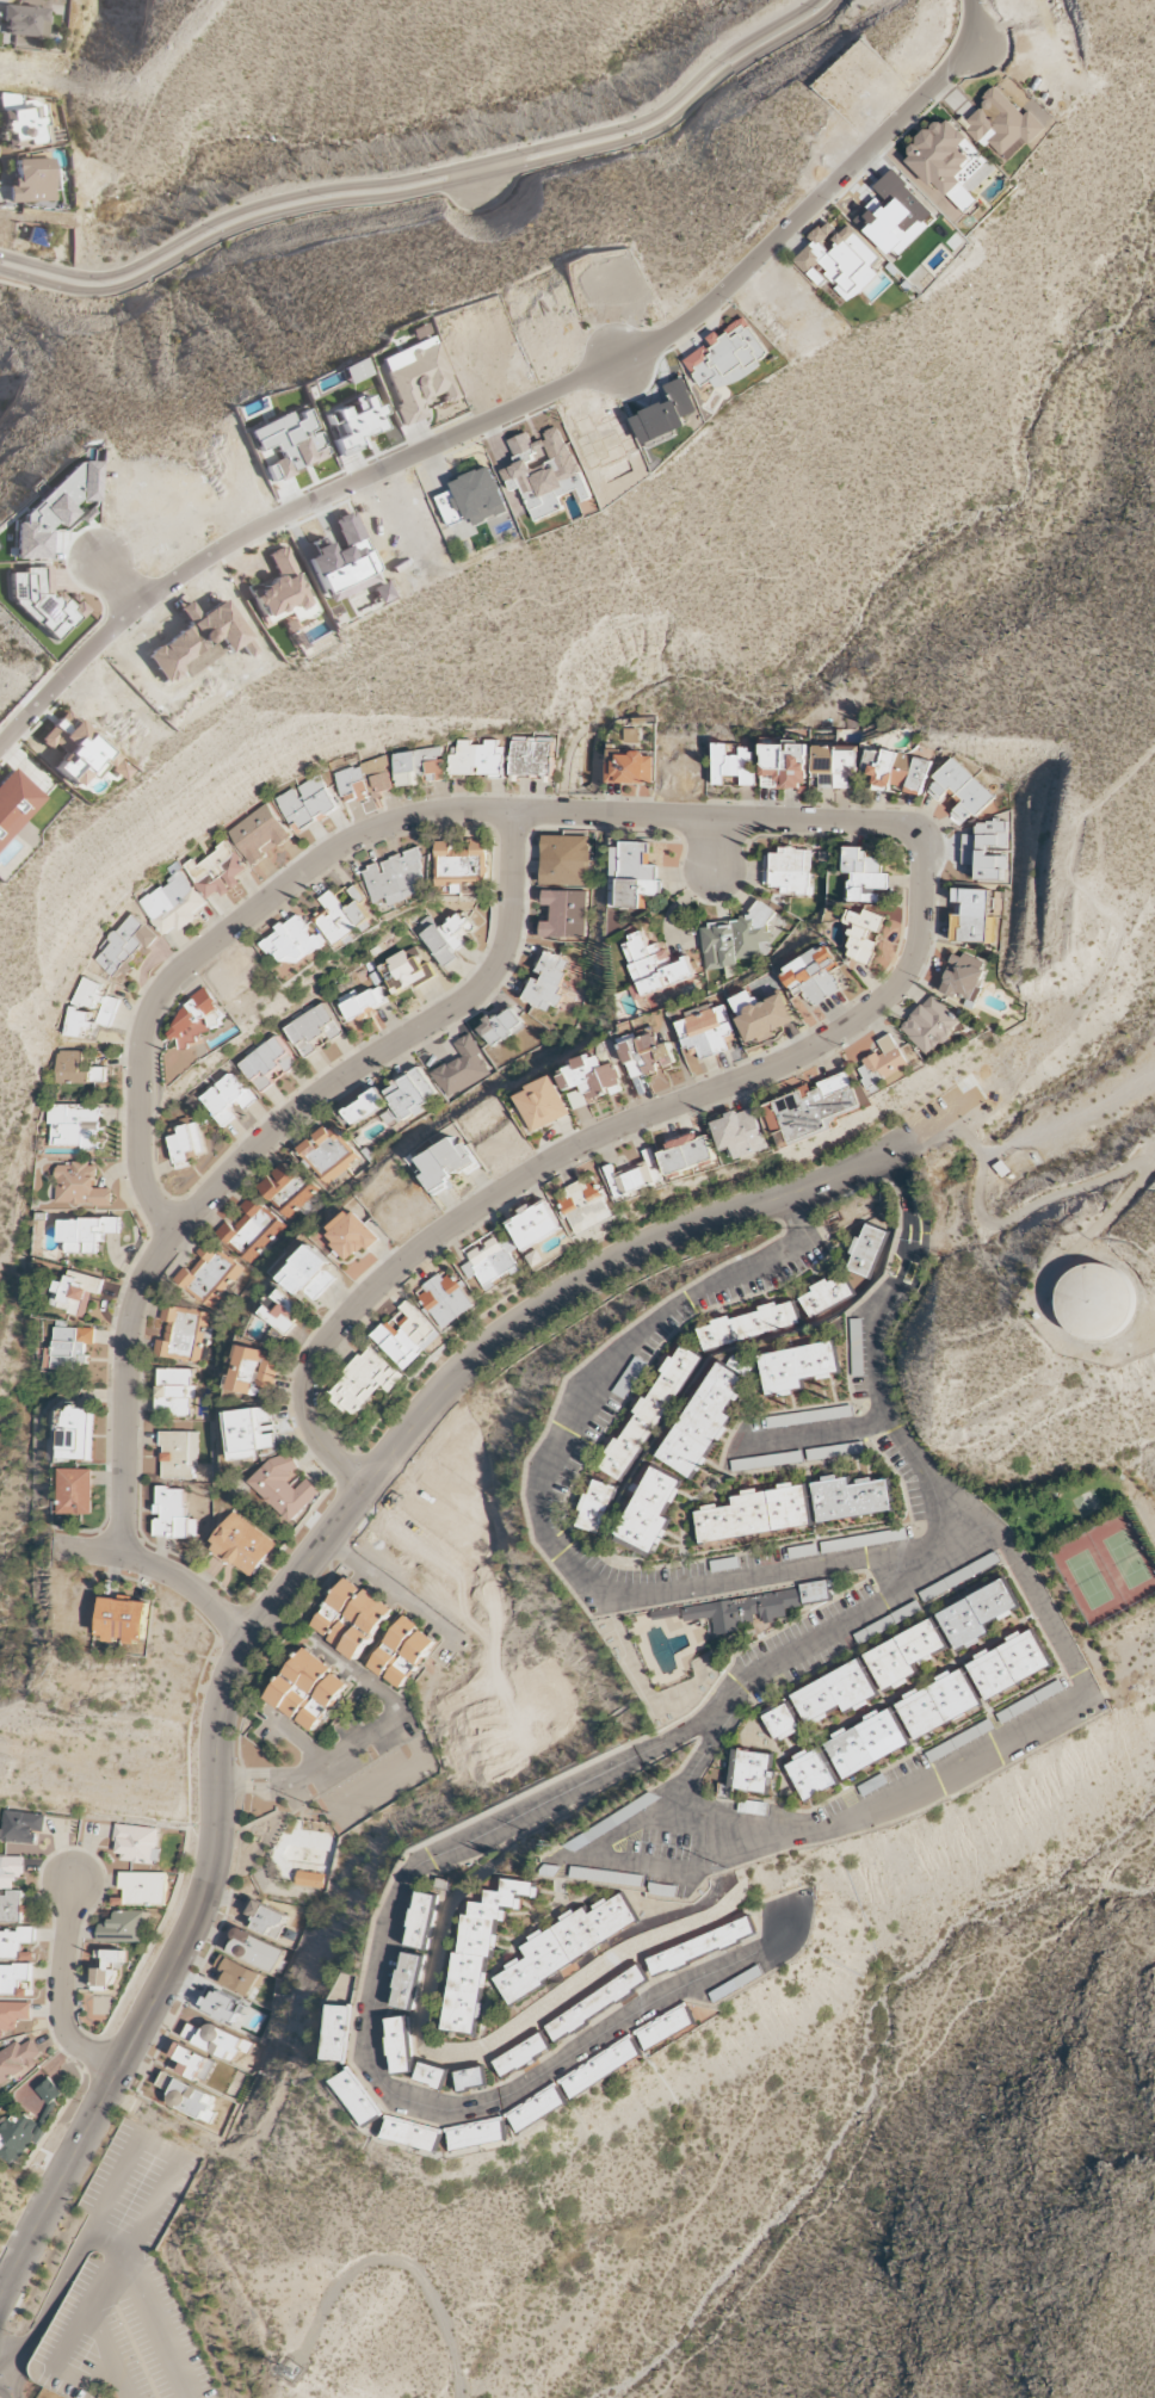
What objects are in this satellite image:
building: (25, 21)
building: (20, 122)
building: (1002, 125)
building: (31, 180)
road: (425, 183)
building: (839, 259)
building: (727, 357)
building: (356, 371)
building: (416, 377)
road: (518, 406)
building: (666, 413)
building: (541, 470)
building: (472, 499)
building: (54, 509)
building: (279, 587)
building: (41, 601)
building: (632, 736)
building: (75, 750)
building: (531, 756)
building: (476, 759)
building: (734, 765)
building: (835, 765)
building: (416, 766)
building: (785, 767)
building: (630, 770)
building: (896, 770)
building: (118, 771)
building: (363, 780)
building: (959, 790)
building: (16, 803)
building: (305, 803)
road: (889, 824)
building: (258, 834)
road: (699, 847)
building: (566, 860)
building: (462, 864)
building: (217, 871)
building: (787, 871)
building: (864, 874)
building: (631, 876)
building: (397, 878)
building: (168, 900)
building: (564, 914)
building: (971, 914)
building: (342, 919)
building: (863, 934)
building: (447, 937)
building: (736, 939)
building: (294, 942)
building: (123, 947)
building: (654, 966)
building: (404, 971)
building: (813, 978)
building: (963, 978)
building: (545, 982)
building: (743, 1002)
building: (360, 1003)
building: (88, 1009)
building: (197, 1018)
building: (767, 1019)
building: (931, 1025)
building: (501, 1027)
building: (311, 1028)
building: (705, 1030)
building: (644, 1055)
building: (266, 1063)
building: (70, 1068)
building: (459, 1068)
building: (98, 1075)
building: (588, 1081)
building: (406, 1096)
building: (226, 1099)
building: (542, 1104)
building: (364, 1107)
parking lot: (1094, 1107)
building: (811, 1110)
parking lot: (938, 1115)
road: (1069, 1119)
building: (73, 1125)
building: (741, 1133)
building: (186, 1144)
road: (261, 1150)
building: (327, 1154)
building: (687, 1155)
building: (446, 1164)
building: (80, 1186)
building: (285, 1191)
building: (586, 1204)
road: (1037, 1210)
building: (536, 1225)
building: (249, 1230)
building: (85, 1234)
building: (351, 1236)
building: (865, 1251)
building: (492, 1262)
building: (309, 1274)
building: (208, 1275)
building: (75, 1293)
building: (824, 1296)
building: (446, 1300)
building: (1093, 1304)
storage tank: (1093, 1304)
building: (278, 1310)
building: (747, 1325)
building: (180, 1334)
building: (406, 1335)
building: (69, 1348)
building: (796, 1367)
building: (253, 1372)
building: (628, 1378)
building: (365, 1382)
building: (174, 1391)
building: (648, 1413)
building: (703, 1422)
building: (255, 1433)
building: (76, 1434)
road: (814, 1434)
building: (835, 1451)
building: (178, 1454)
building: (285, 1487)
building: (76, 1491)
building: (851, 1498)
building: (594, 1507)
road: (542, 1509)
building: (650, 1510)
building: (755, 1514)
building: (172, 1515)
building: (242, 1545)
building: (832, 1546)
road: (292, 1558)
road: (163, 1570)
road: (296, 1577)
road: (297, 1590)
building: (753, 1607)
building: (977, 1614)
building: (352, 1618)
building: (122, 1620)
road: (1048, 1626)
building: (402, 1652)
building: (904, 1655)
building: (1009, 1664)
building: (308, 1691)
building: (835, 1693)
building: (938, 1704)
building: (782, 1723)
building: (867, 1744)
building: (747, 1773)
building: (811, 1774)
building: (752, 1807)
power tower: (327, 1813)
building: (19, 1827)
building: (136, 1844)
road: (594, 1854)
power tower: (728, 1869)
building: (10, 1871)
building: (592, 1874)
building: (309, 1879)
road: (408, 1887)
building: (143, 1889)
building: (10, 1906)
building: (264, 1918)
building: (421, 1921)
building: (123, 1927)
building: (14, 1941)
building: (568, 1945)
building: (632, 1945)
building: (702, 1946)
building: (253, 1949)
building: (481, 1954)
building: (107, 1967)
building: (235, 1976)
building: (12, 1977)
building: (407, 1982)
road: (60, 1991)
road: (938, 1995)
building: (597, 2003)
building: (12, 2016)
building: (666, 2027)
building: (339, 2033)
building: (216, 2040)
building: (400, 2045)
building: (523, 2056)
building: (17, 2059)
building: (193, 2063)
building: (601, 2068)
building: (432, 2076)
building: (471, 2078)
building: (359, 2096)
road: (890, 2096)
building: (187, 2097)
building: (537, 2109)
building: (25, 2127)
building: (412, 2134)
building: (477, 2134)
road: (115, 2184)
road: (112, 2274)
road: (52, 2297)
road: (148, 2306)
road: (107, 2354)
road: (8, 2367)
road: (17, 2380)
road: (4, 2388)

